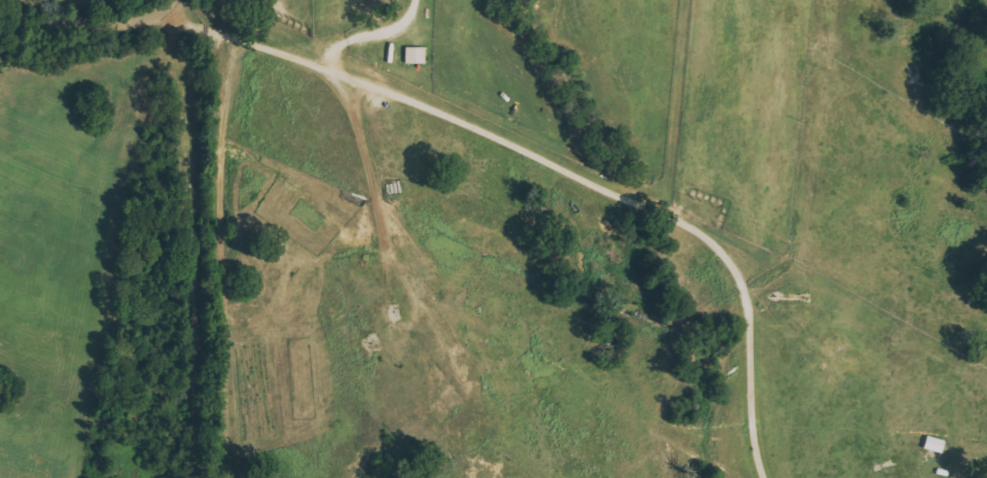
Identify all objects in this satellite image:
road: (88, 22)
building: (930, 445)

